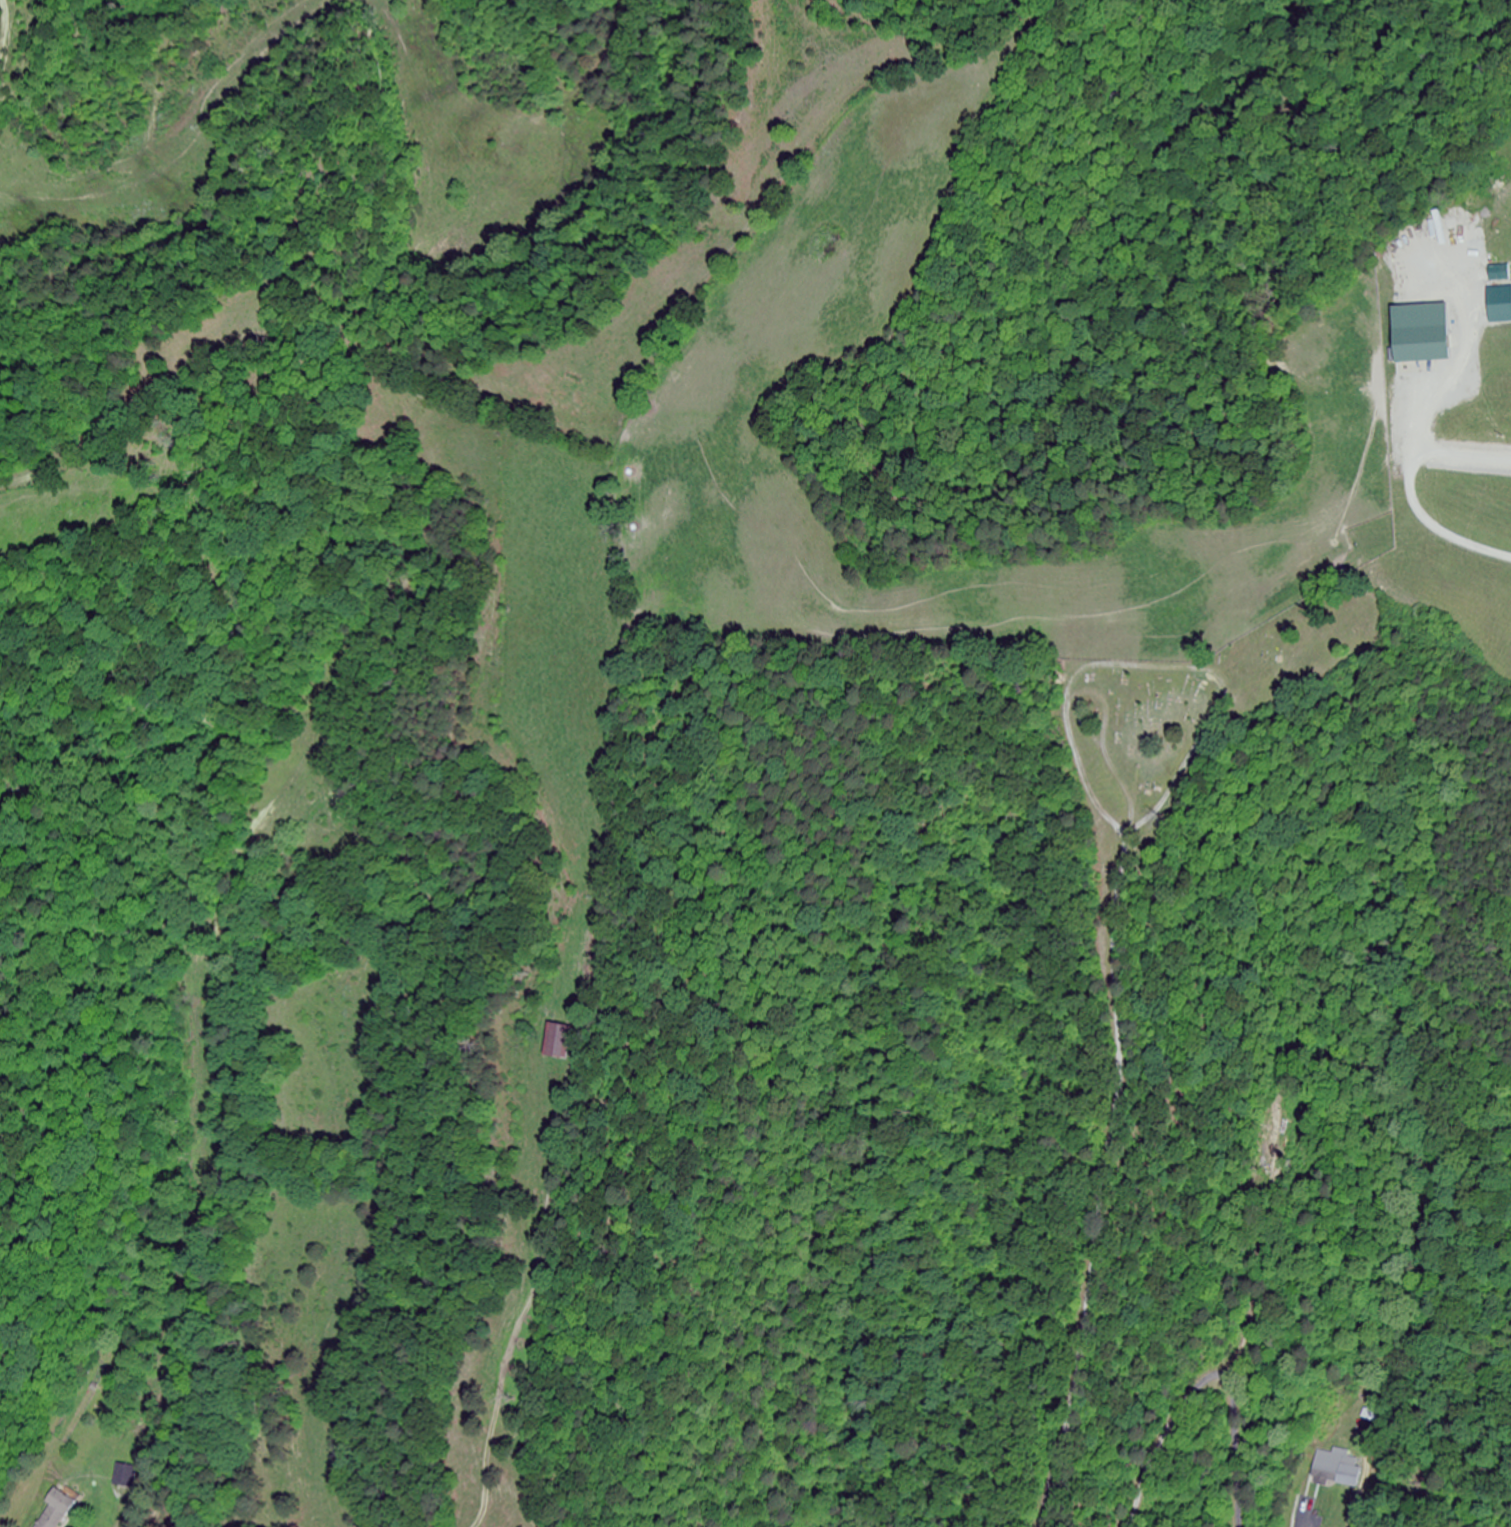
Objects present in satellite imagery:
building: (559, 1041)
road: (1105, 1142)
road: (1225, 1361)
building: (1376, 1415)
building: (1338, 1470)
building: (124, 1476)
building: (58, 1511)

